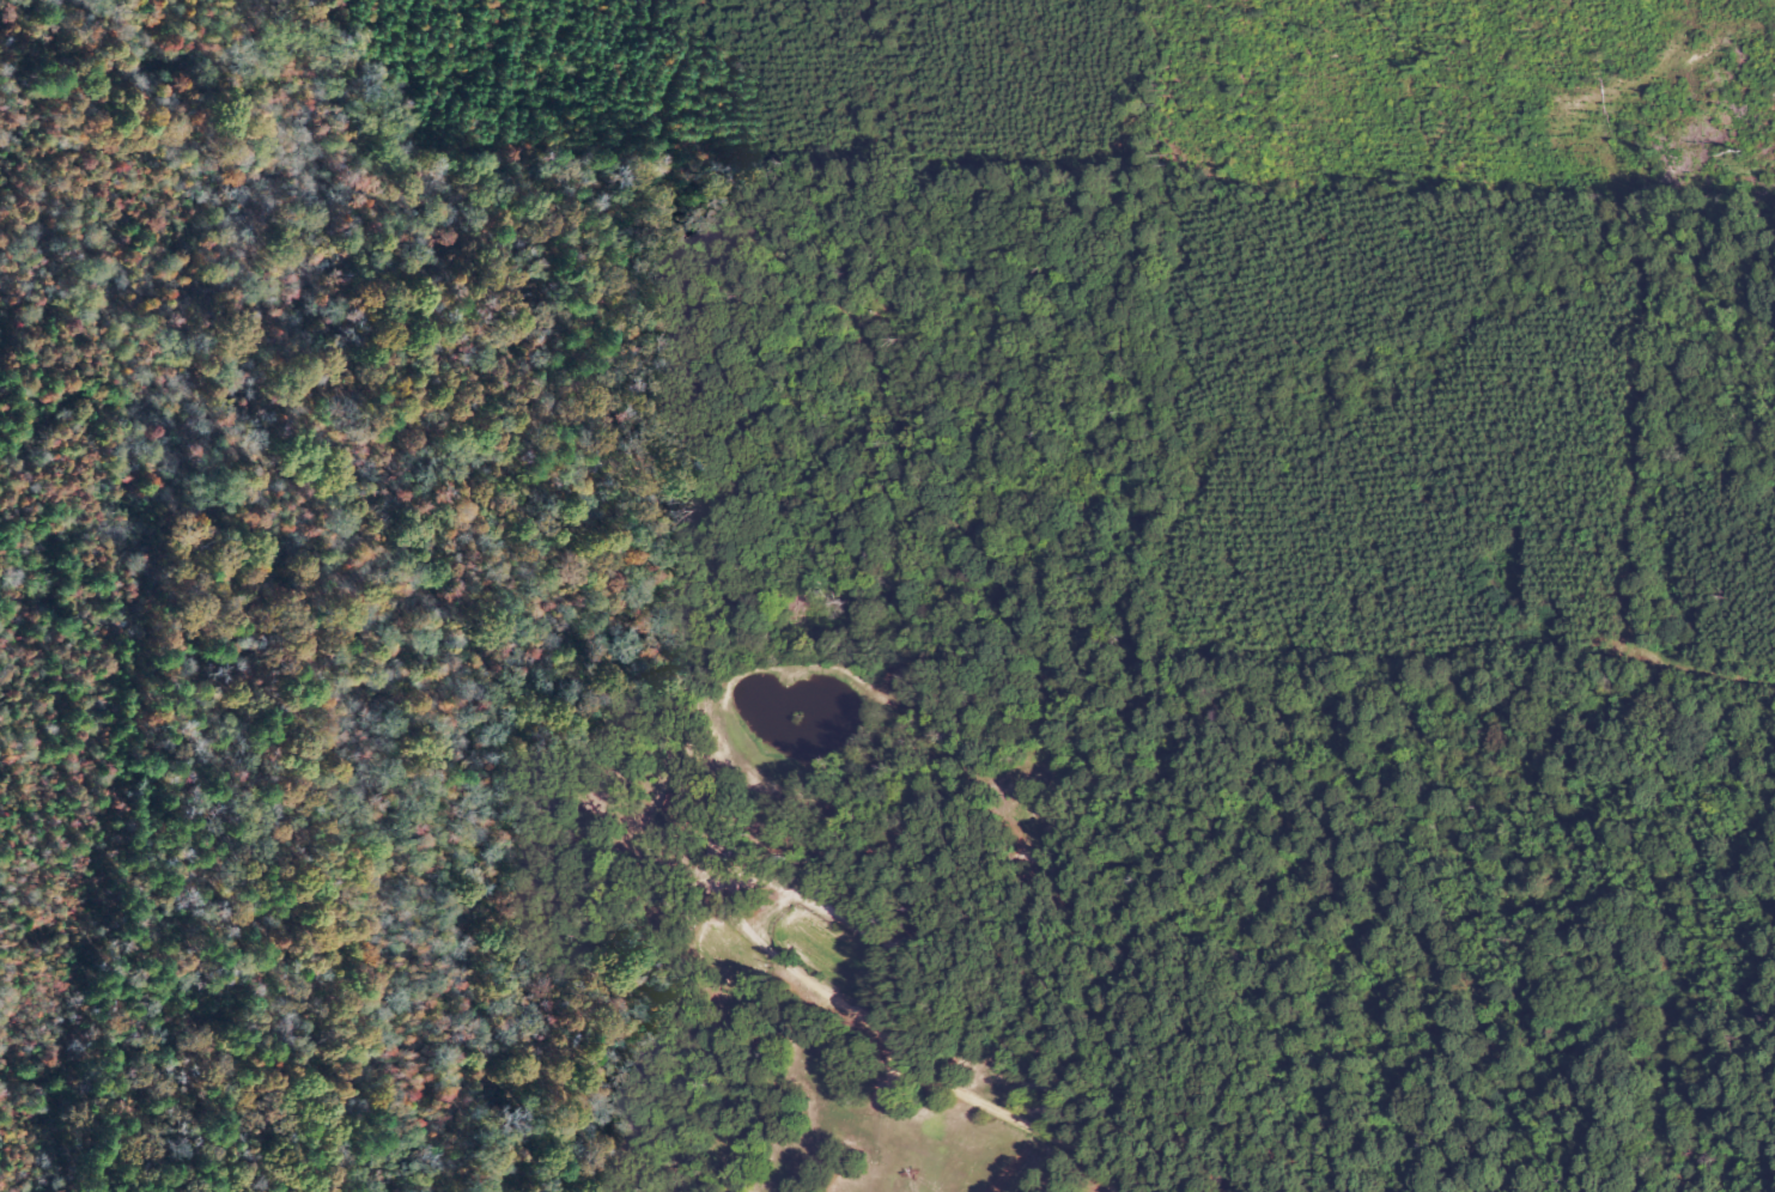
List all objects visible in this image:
road: (962, 877)

